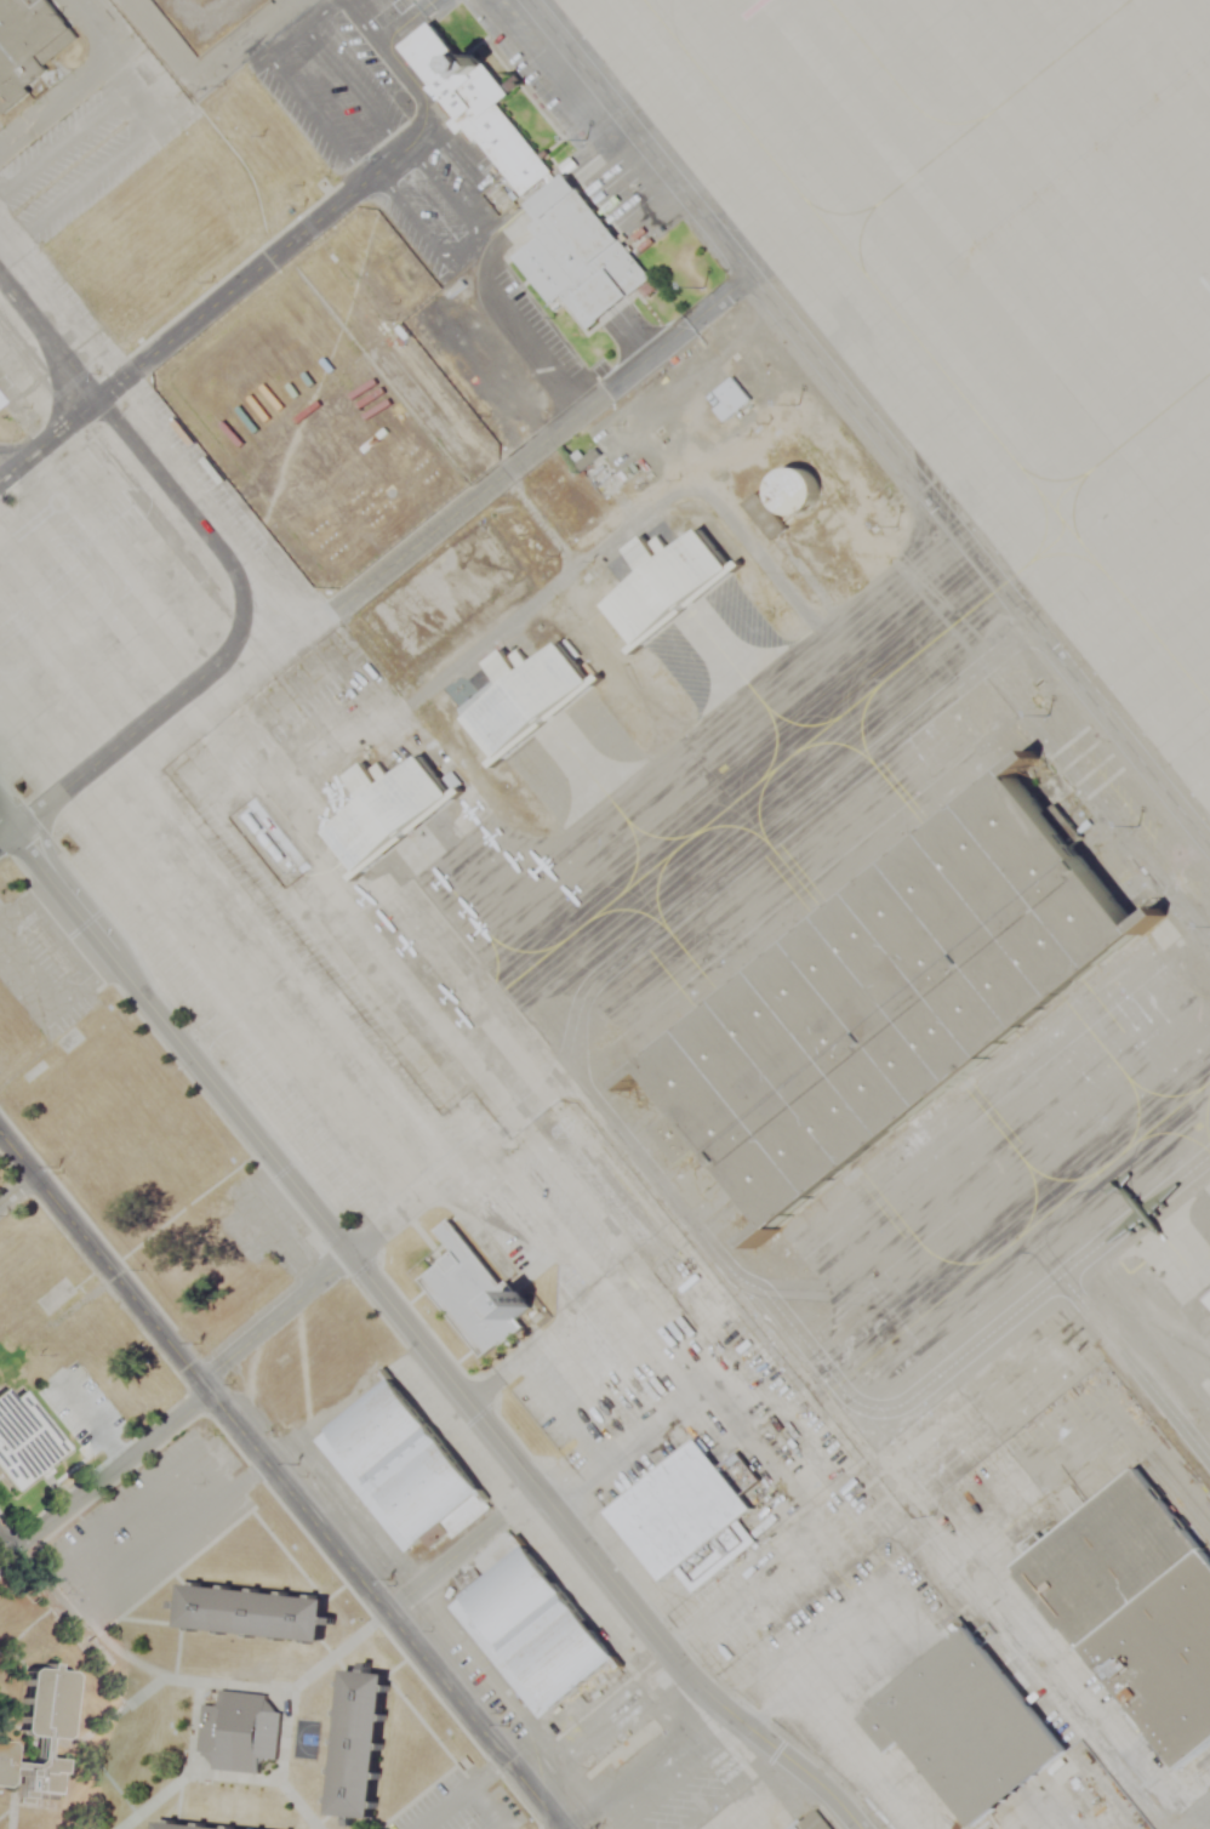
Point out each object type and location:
building: (27, 45)
road: (76, 73)
building: (476, 109)
building: (578, 258)
airport apron: (989, 273)
road: (718, 300)
road: (200, 315)
building: (730, 399)
building: (1, 403)
road: (867, 425)
road: (509, 468)
building: (795, 491)
road: (229, 569)
building: (669, 582)
airport: (775, 631)
building: (531, 700)
building: (389, 810)
road: (4, 836)
building: (900, 1003)
road: (16, 1189)
road: (532, 1230)
building: (473, 1298)
road: (274, 1320)
road: (416, 1338)
road: (92, 1423)
road: (590, 1437)
building: (24, 1442)
building: (398, 1468)
road: (103, 1476)
road: (279, 1482)
railway: (1180, 1493)
railway: (1176, 1504)
building: (679, 1511)
road: (165, 1539)
road: (460, 1551)
road: (38, 1580)
building: (1136, 1608)
building: (256, 1613)
building: (531, 1633)
road: (821, 1664)
road: (1086, 1700)
building: (46, 1702)
road: (195, 1711)
road: (595, 1719)
building: (968, 1727)
building: (238, 1731)
building: (360, 1744)
building: (624, 1749)
building: (5, 1764)
building: (40, 1774)
road: (683, 1778)
road: (457, 1791)
road: (487, 1805)
building: (811, 1823)
building: (182, 1825)

